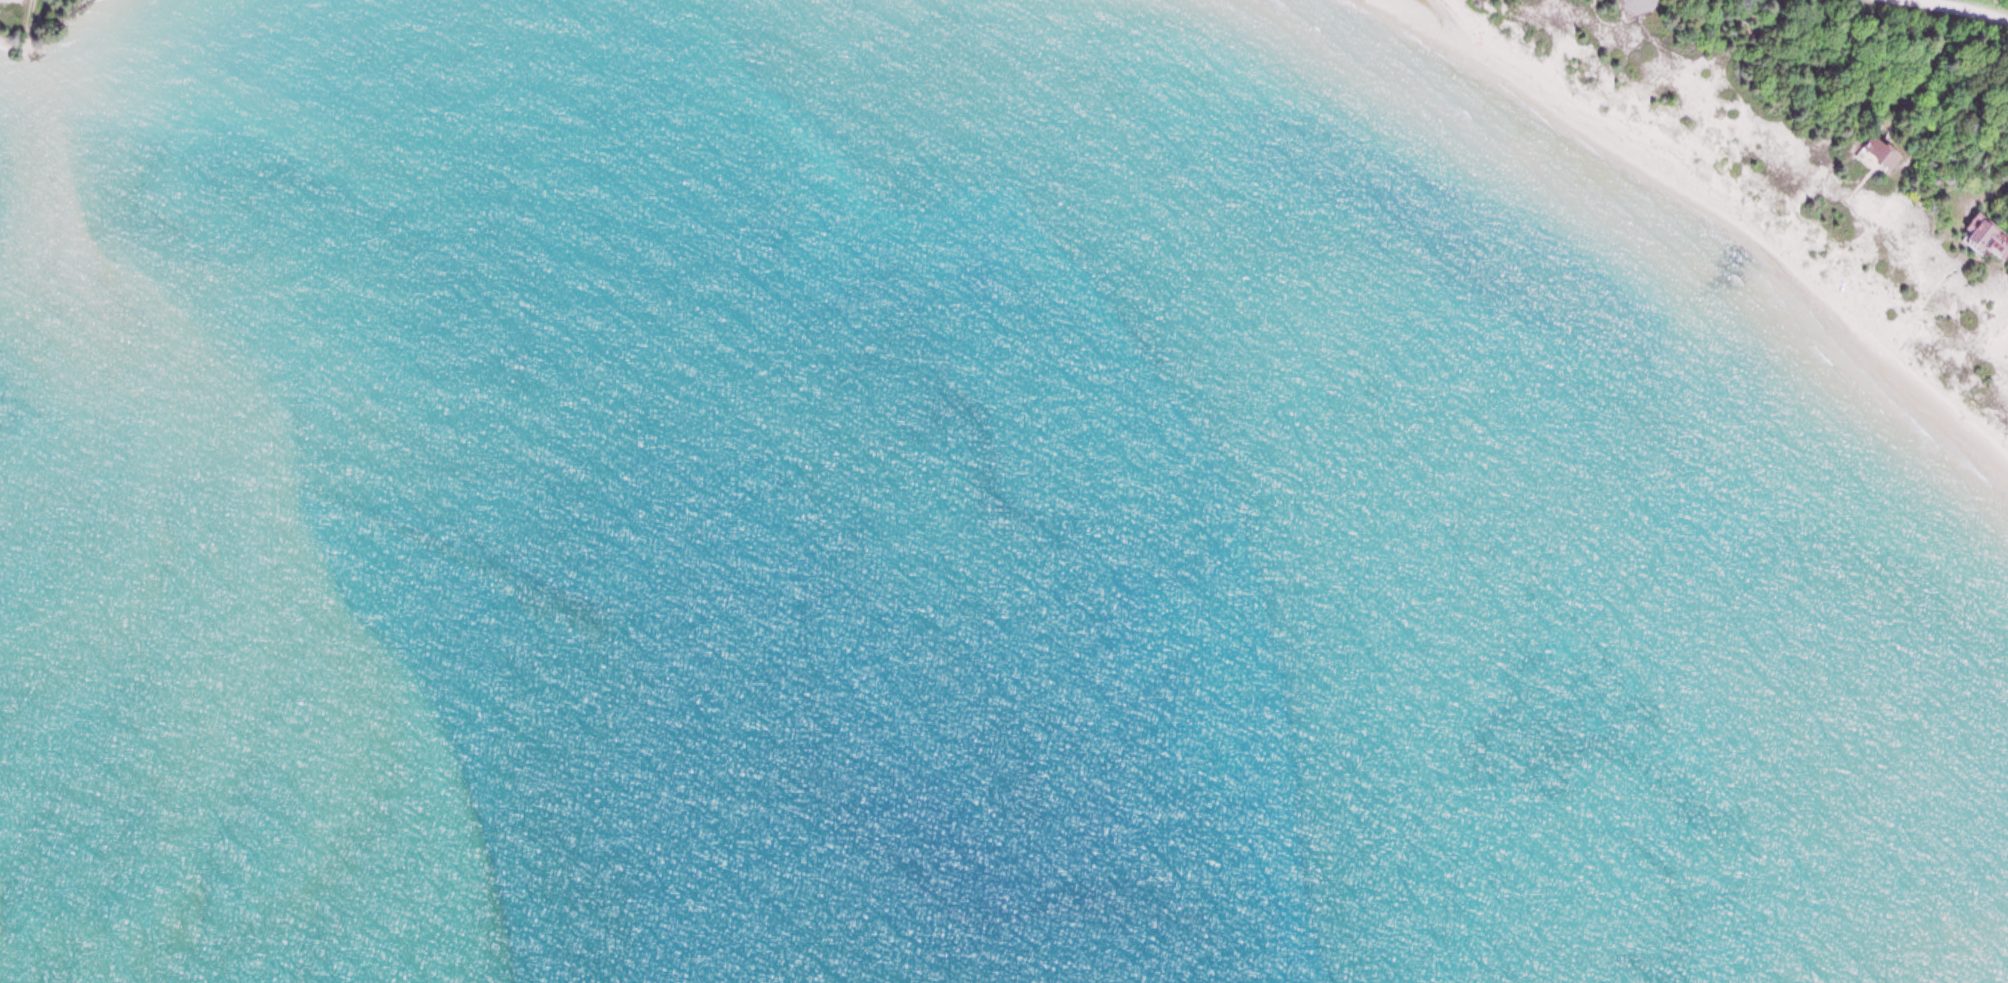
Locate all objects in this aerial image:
building: (1640, 5)
road: (1941, 10)
building: (1882, 151)
building: (1988, 233)

